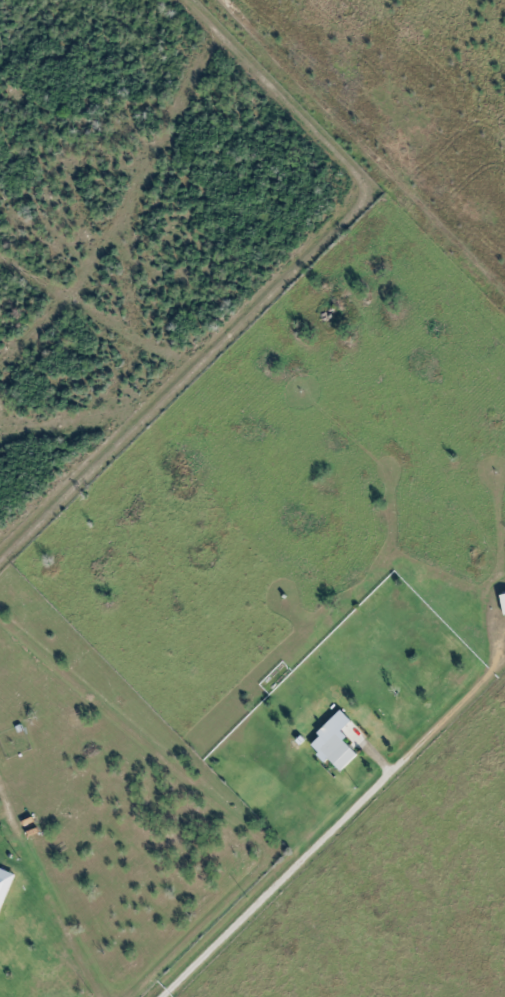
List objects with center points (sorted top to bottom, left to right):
building: (503, 599)
building: (319, 729)
building: (339, 748)
building: (29, 821)
building: (5, 881)
road: (274, 883)

